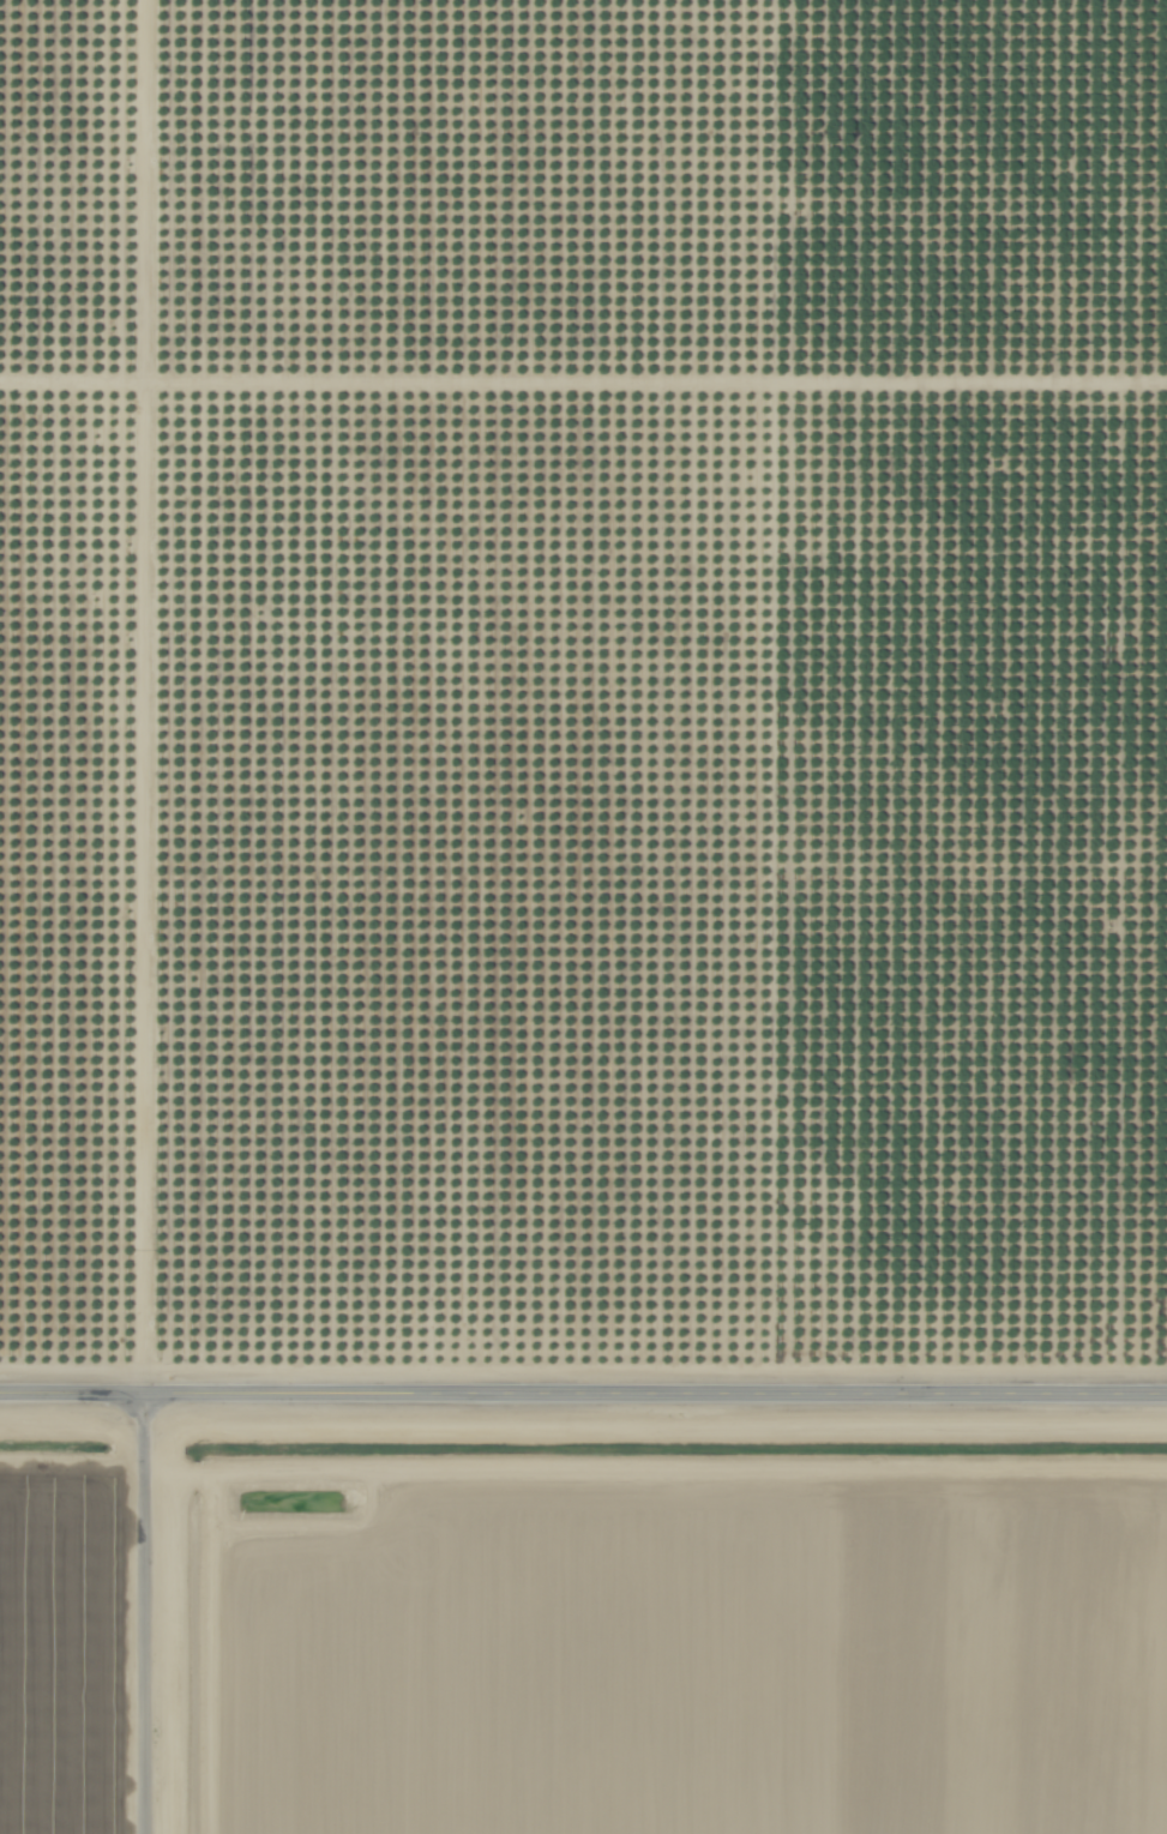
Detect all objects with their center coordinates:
road: (144, 696)
road: (583, 1395)
road: (144, 1613)
crop: (62, 1625)
crop: (690, 1655)

